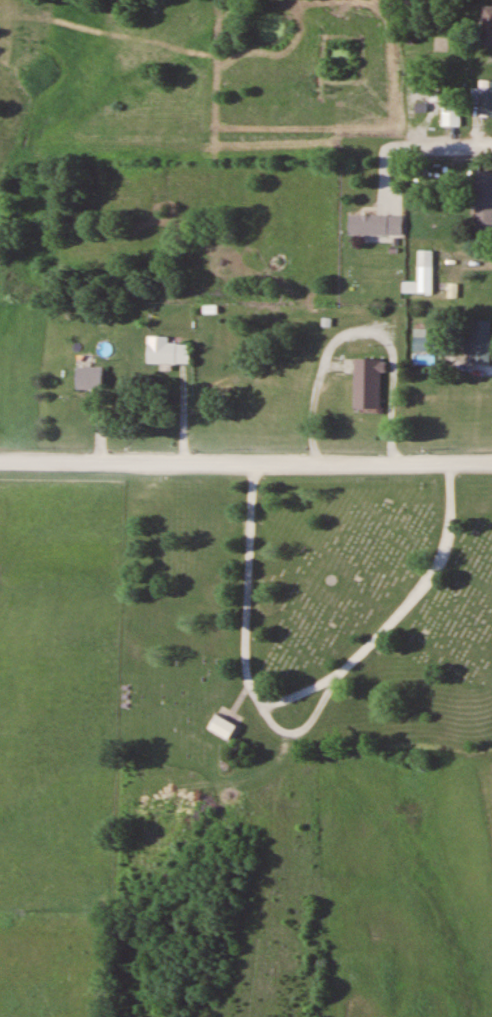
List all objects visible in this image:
building: (487, 25)
building: (486, 98)
building: (451, 115)
building: (483, 200)
building: (376, 225)
building: (426, 271)
building: (427, 341)
building: (481, 342)
building: (168, 351)
building: (91, 377)
building: (369, 383)
road: (245, 463)
park: (308, 616)
road: (305, 690)
building: (223, 728)

